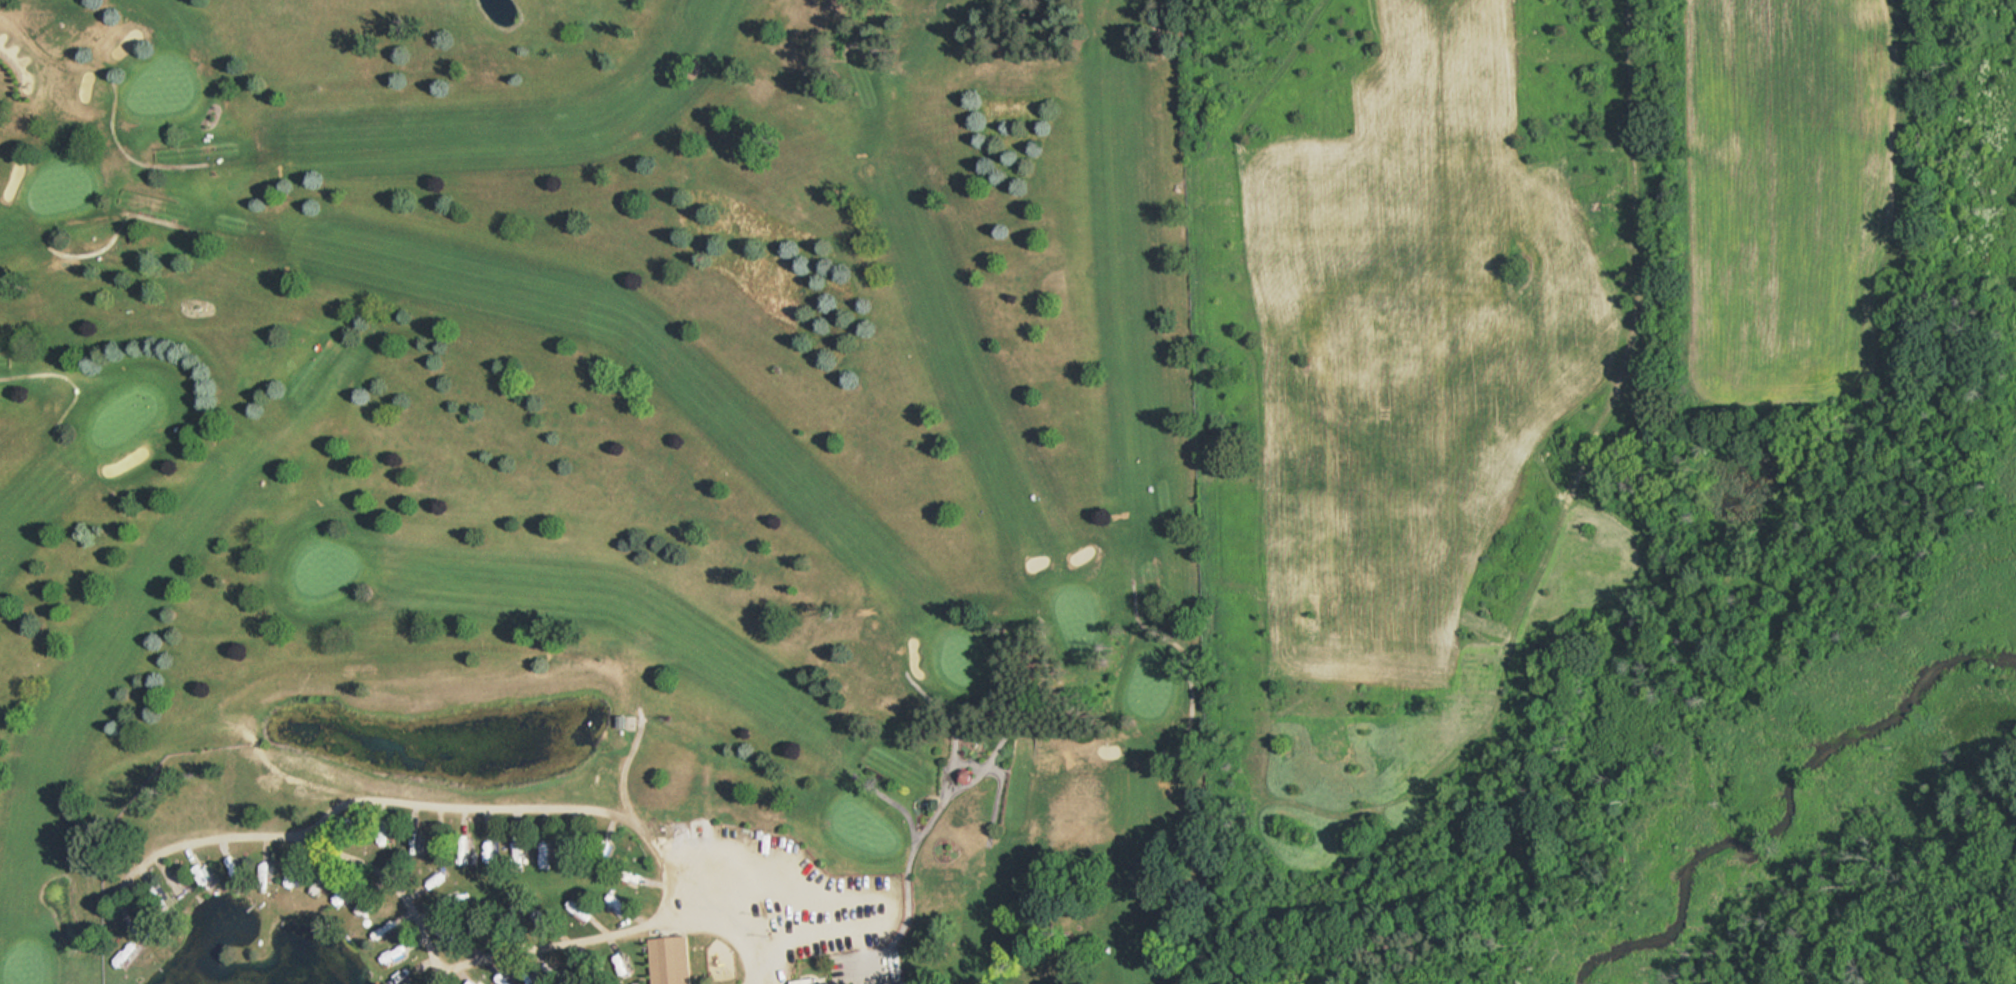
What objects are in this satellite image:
park: (603, 492)
road: (512, 805)
building: (516, 851)
building: (175, 887)
building: (151, 925)
building: (452, 936)
building: (668, 960)
building: (808, 981)

